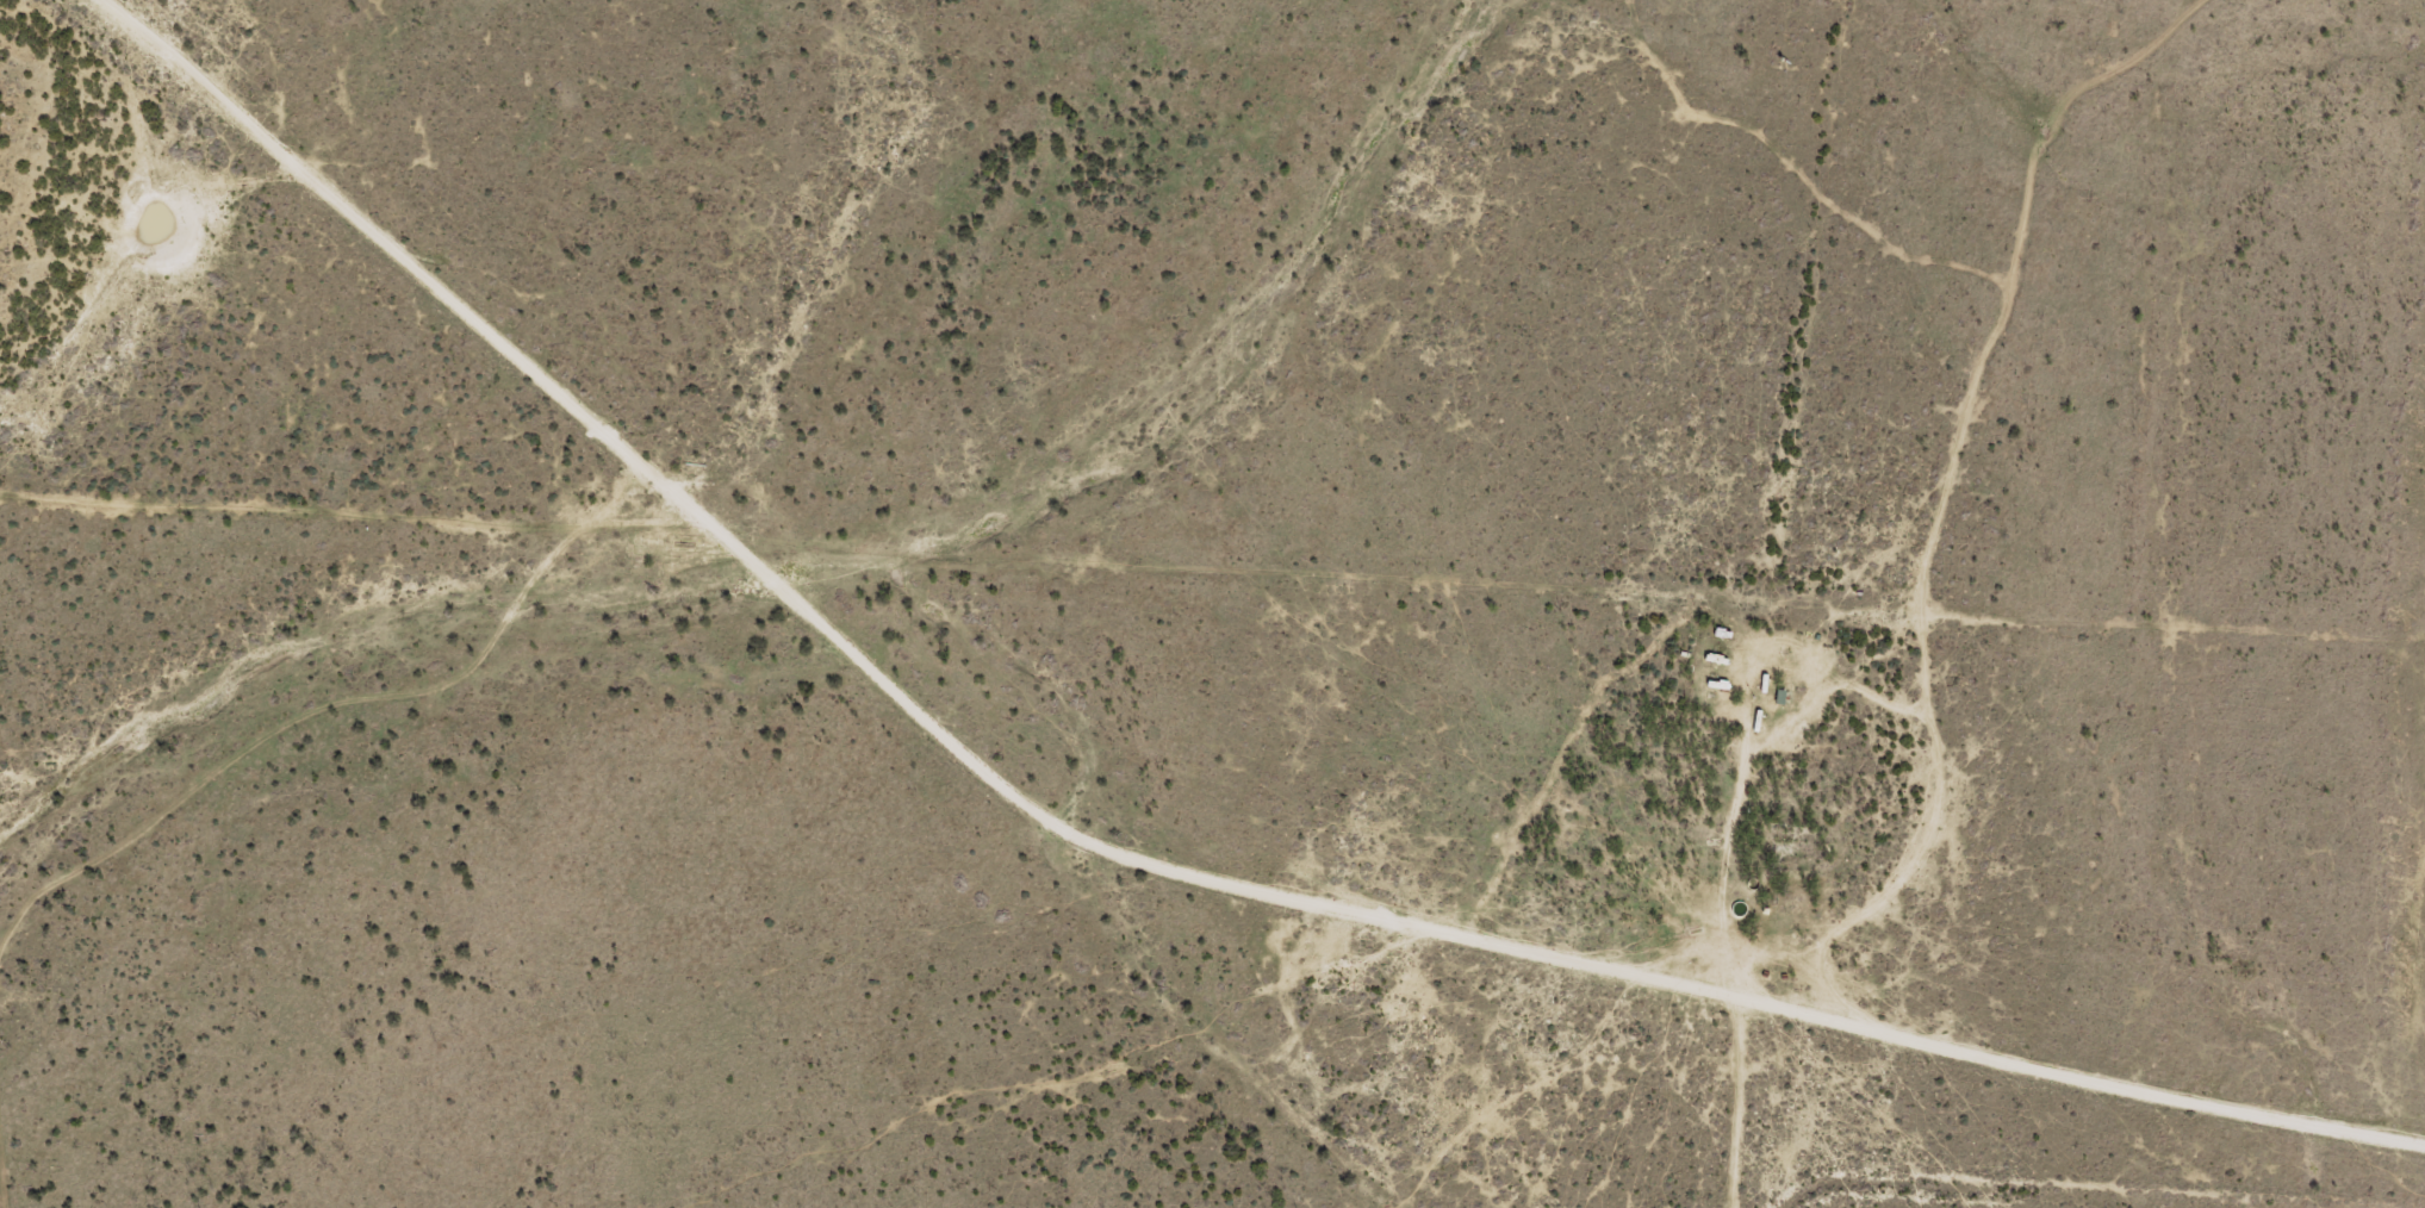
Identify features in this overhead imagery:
road: (1954, 500)
road: (1126, 846)

